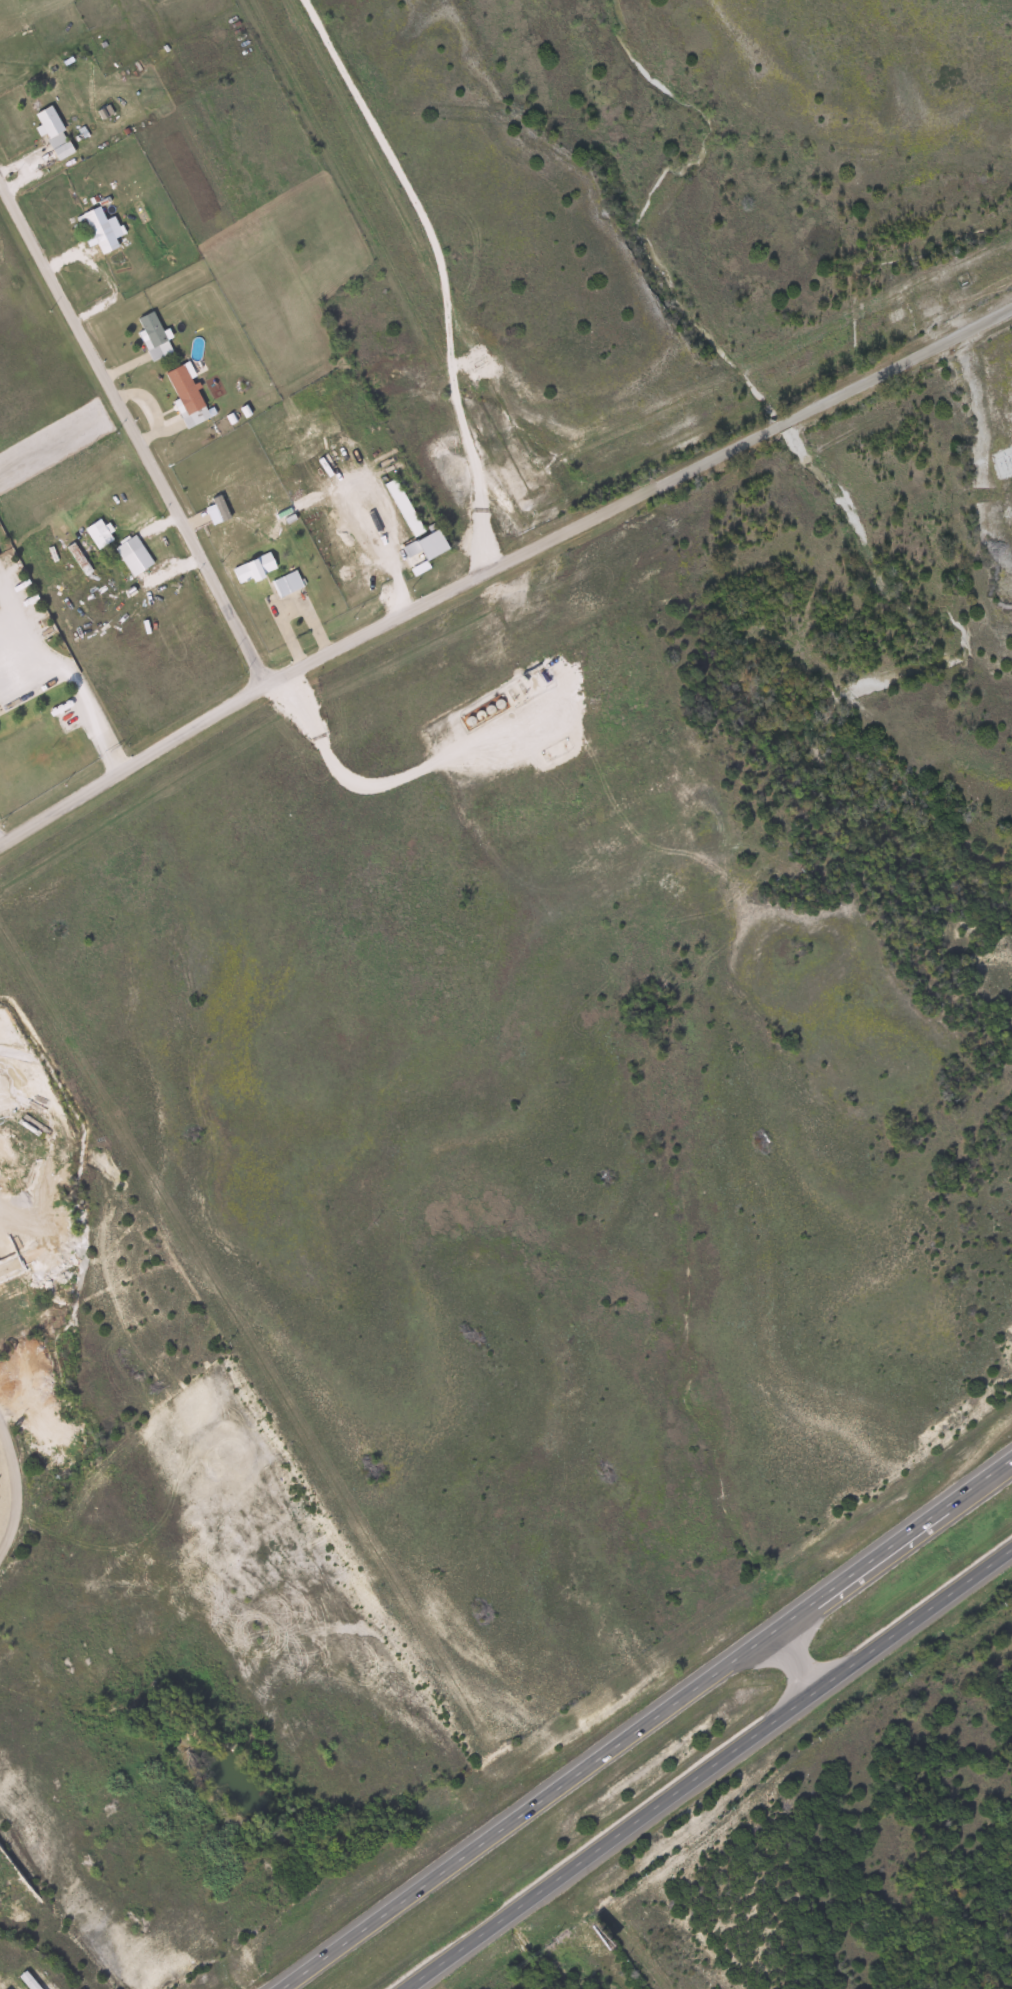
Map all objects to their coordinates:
building: (59, 134)
road: (949, 149)
building: (105, 231)
road: (444, 268)
building: (158, 337)
building: (191, 396)
road: (57, 439)
road: (132, 439)
building: (408, 509)
building: (103, 535)
building: (437, 545)
building: (132, 548)
road: (500, 562)
building: (265, 574)
building: (292, 584)
road: (289, 636)
road: (78, 686)
road: (337, 765)
road: (0, 839)
road: (16, 1489)
road: (195, 1603)
road: (792, 1661)
road: (646, 1721)
road: (710, 1769)
road: (48, 1950)

